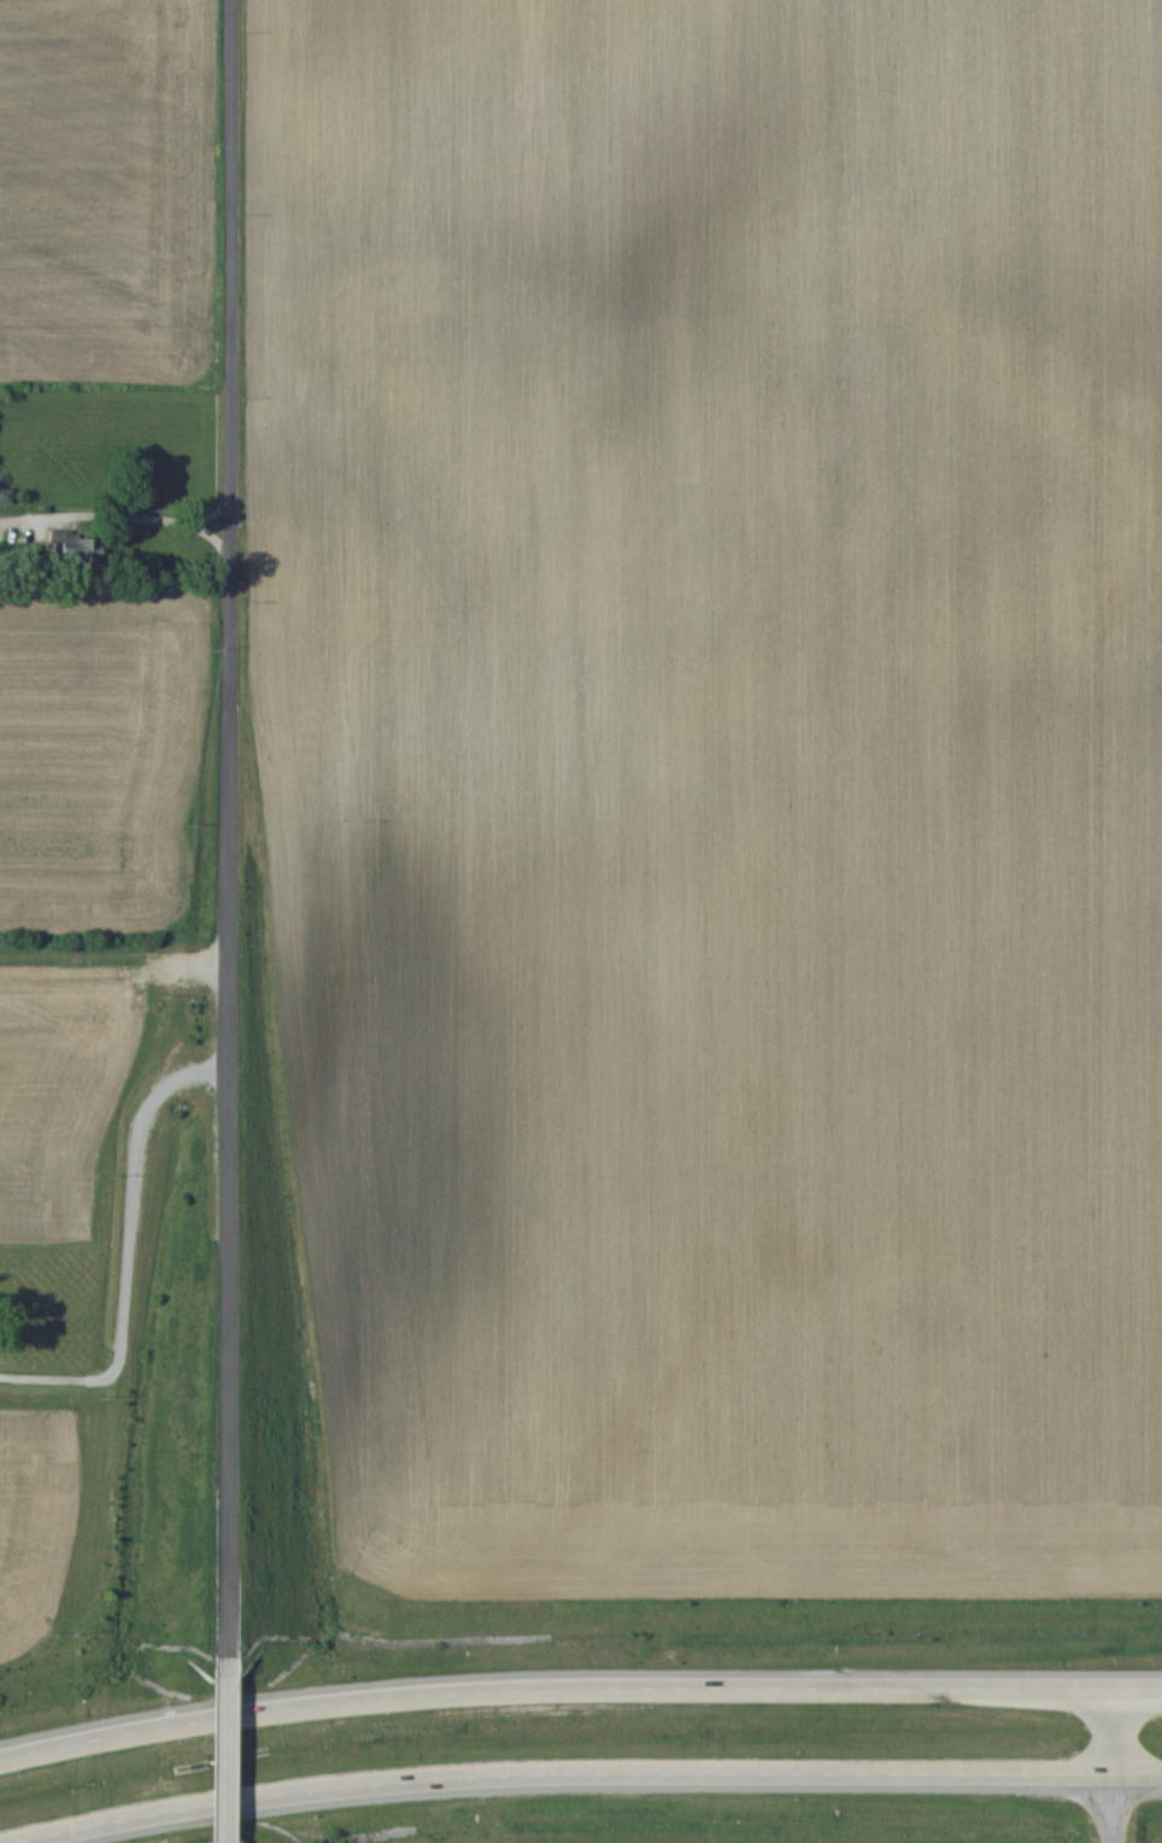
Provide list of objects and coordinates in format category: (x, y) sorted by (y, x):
building: (78, 546)
road: (229, 837)
road: (130, 1246)
road: (577, 1687)
road: (216, 1759)
road: (1103, 1765)
road: (589, 1766)

